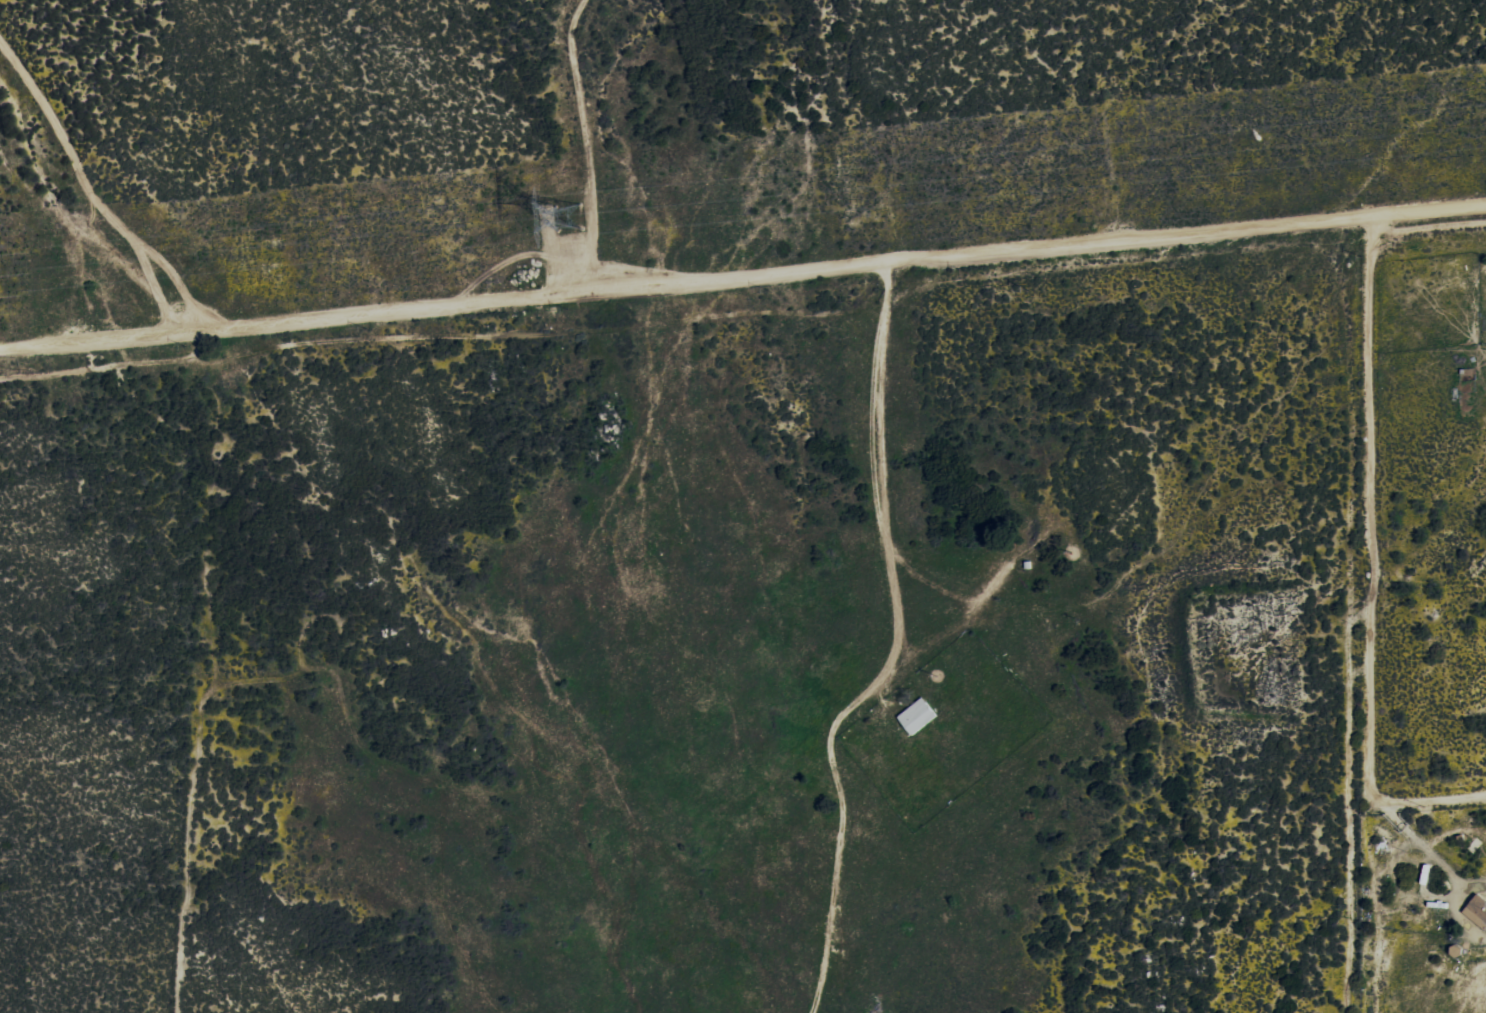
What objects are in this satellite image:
power tower: (570, 216)
road: (743, 283)
road: (895, 455)
building: (915, 716)
building: (1476, 911)

